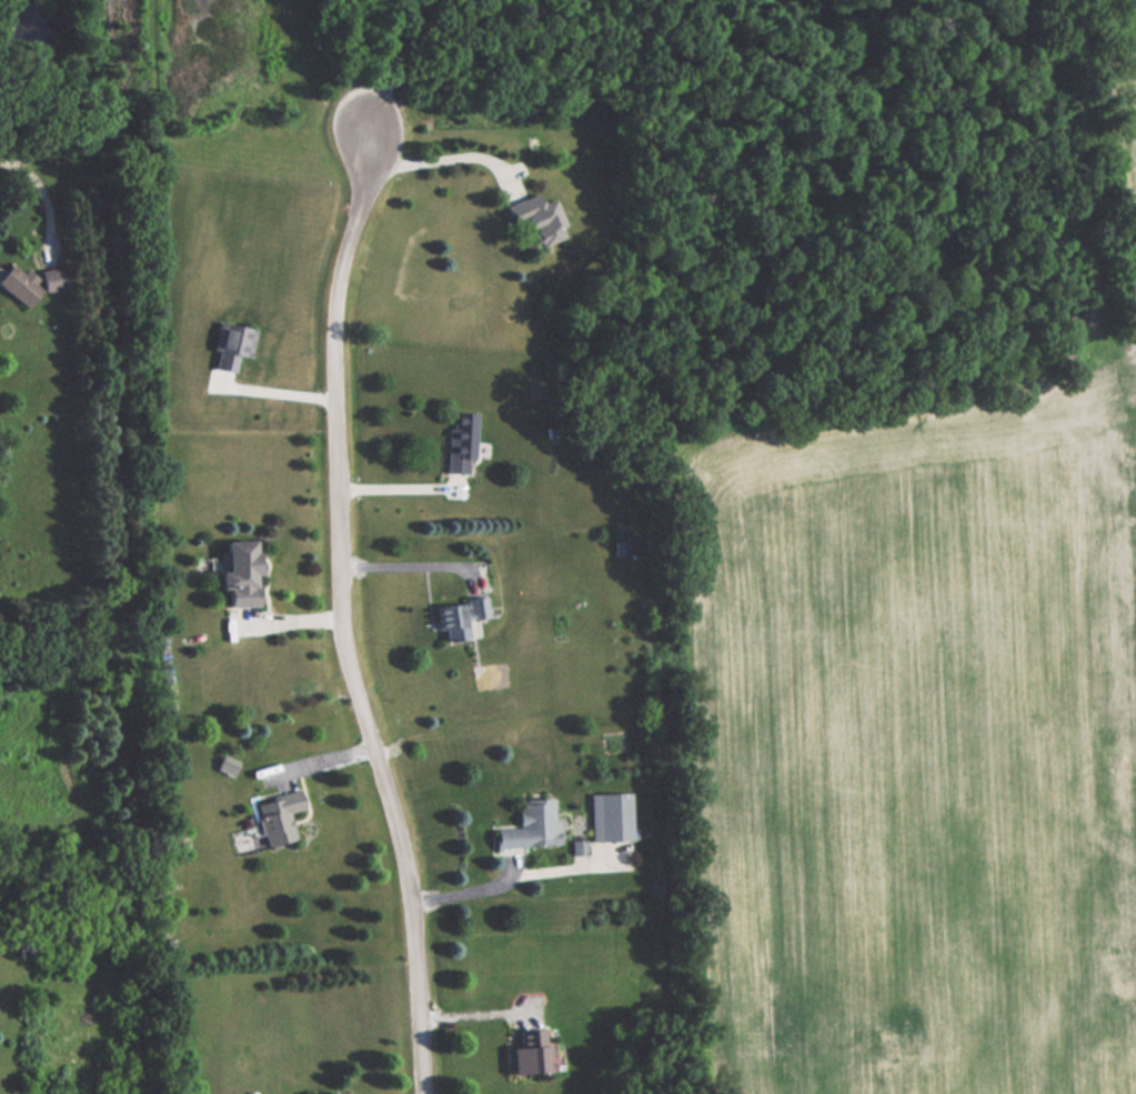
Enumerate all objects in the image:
road: (395, 67)
road: (445, 160)
road: (43, 182)
building: (534, 219)
building: (30, 282)
building: (230, 347)
road: (273, 392)
building: (461, 442)
road: (402, 488)
road: (401, 568)
building: (238, 573)
road: (341, 616)
building: (460, 619)
building: (227, 765)
building: (610, 816)
building: (279, 817)
building: (527, 825)
road: (473, 891)
road: (479, 1011)
building: (527, 1054)

